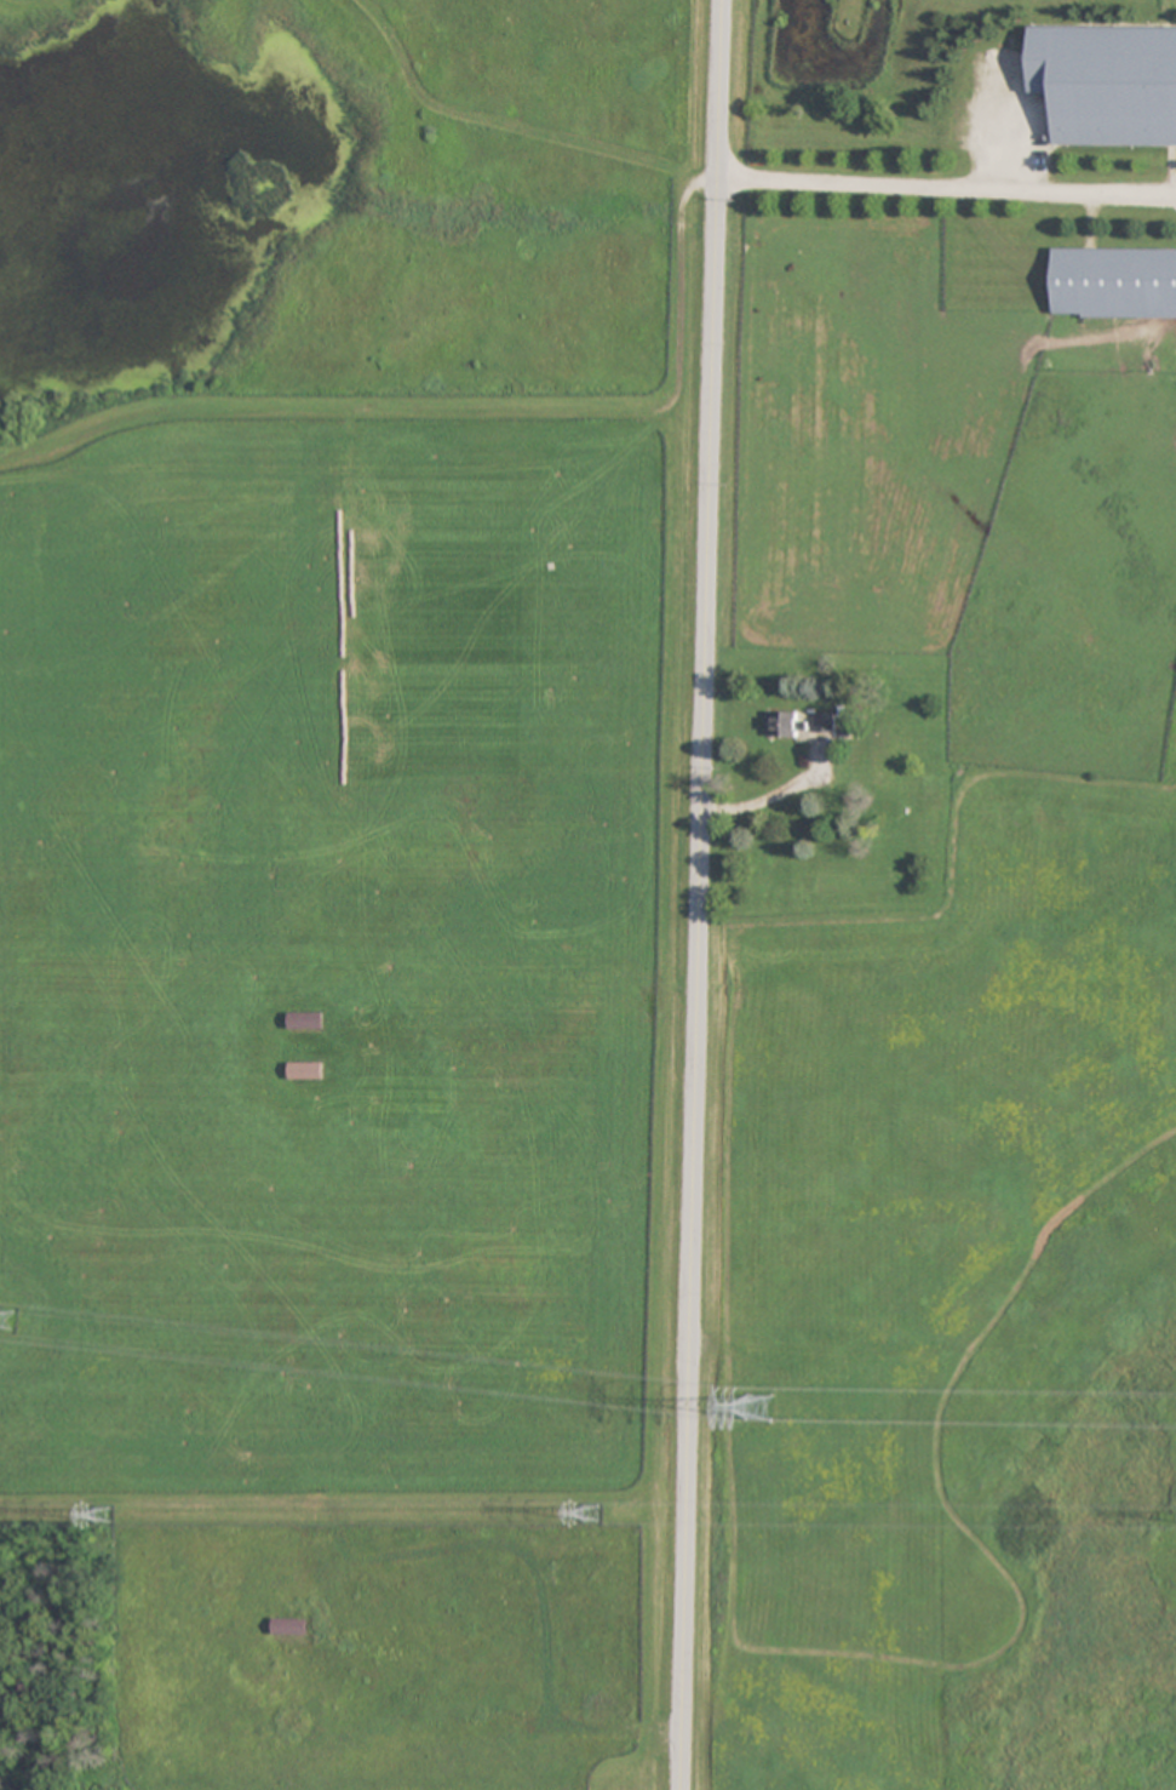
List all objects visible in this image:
building: (1108, 82)
road: (946, 191)
building: (1114, 282)
building: (825, 721)
crop: (595, 883)
road: (701, 894)
building: (308, 1020)
building: (306, 1070)
power tower: (5, 1320)
power tower: (755, 1405)
power tower: (592, 1512)
power tower: (102, 1514)

